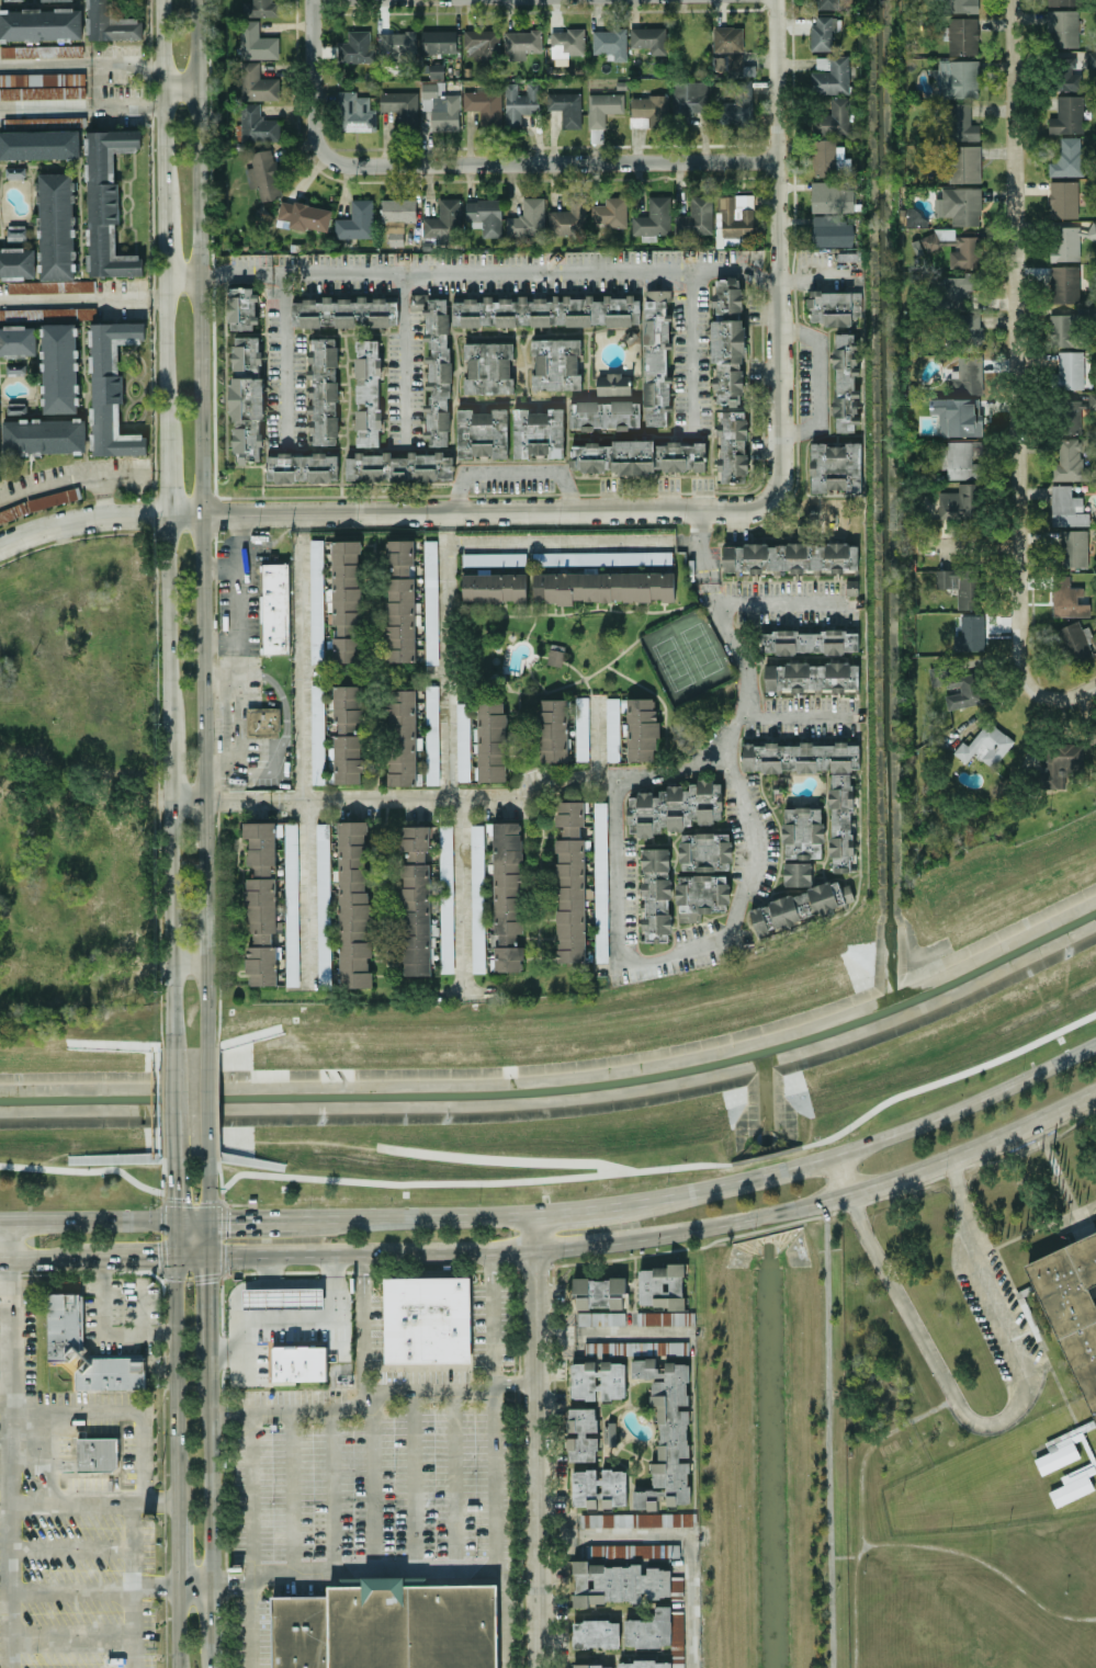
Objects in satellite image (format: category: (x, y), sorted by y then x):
building: (53, 0)
building: (1063, 2)
building: (827, 3)
building: (962, 5)
building: (261, 8)
building: (110, 22)
building: (41, 23)
building: (1062, 27)
building: (822, 32)
building: (963, 35)
building: (648, 38)
building: (728, 38)
building: (439, 41)
building: (256, 42)
building: (611, 42)
building: (521, 43)
building: (566, 43)
building: (481, 44)
building: (355, 47)
building: (398, 47)
building: (41, 50)
road: (314, 54)
building: (1092, 59)
road: (45, 64)
road: (125, 64)
building: (735, 65)
building: (437, 69)
building: (831, 75)
building: (1066, 75)
building: (958, 78)
road: (179, 79)
road: (97, 83)
building: (257, 83)
building: (42, 86)
building: (689, 95)
building: (519, 102)
road: (44, 103)
road: (125, 103)
building: (402, 106)
building: (440, 106)
building: (484, 106)
building: (566, 106)
building: (602, 107)
building: (647, 110)
building: (354, 112)
building: (733, 113)
building: (1067, 115)
building: (833, 118)
building: (959, 122)
building: (257, 124)
road: (778, 138)
building: (38, 143)
building: (827, 157)
building: (1067, 158)
road: (527, 162)
building: (964, 163)
building: (15, 171)
building: (263, 174)
building: (831, 197)
building: (1063, 198)
building: (106, 202)
building: (959, 205)
building: (397, 209)
building: (610, 212)
building: (305, 215)
building: (913, 215)
building: (485, 216)
building: (653, 217)
building: (528, 218)
building: (734, 218)
building: (568, 219)
building: (355, 220)
building: (443, 220)
road: (162, 222)
building: (56, 226)
building: (1092, 230)
building: (831, 231)
building: (1064, 242)
building: (956, 247)
building: (16, 263)
road: (489, 271)
road: (180, 274)
road: (814, 276)
building: (1064, 283)
building: (959, 288)
road: (81, 298)
building: (726, 298)
building: (834, 306)
building: (241, 308)
building: (546, 310)
building: (344, 311)
building: (1063, 329)
building: (969, 332)
building: (18, 339)
road: (689, 349)
building: (656, 356)
road: (399, 360)
building: (727, 361)
road: (280, 362)
building: (556, 363)
building: (436, 365)
building: (58, 367)
building: (488, 367)
building: (1073, 368)
road: (1017, 378)
building: (969, 379)
road: (817, 381)
building: (845, 382)
building: (613, 384)
building: (111, 387)
road: (781, 389)
building: (323, 392)
building: (368, 393)
building: (247, 397)
building: (1092, 399)
building: (603, 413)
building: (958, 416)
building: (1070, 416)
building: (539, 432)
building: (482, 433)
building: (44, 435)
building: (732, 444)
building: (637, 456)
building: (961, 461)
building: (1070, 461)
building: (399, 466)
building: (835, 466)
building: (302, 467)
road: (512, 473)
road: (70, 476)
road: (165, 479)
road: (100, 493)
building: (958, 502)
building: (1066, 507)
road: (384, 511)
road: (447, 520)
road: (201, 523)
road: (557, 542)
road: (700, 544)
road: (965, 545)
building: (1074, 548)
building: (786, 558)
road: (221, 564)
building: (961, 586)
building: (494, 587)
building: (603, 587)
road: (241, 597)
building: (1067, 598)
road: (166, 600)
building: (316, 600)
building: (346, 600)
building: (399, 600)
building: (430, 601)
road: (771, 602)
building: (274, 608)
building: (970, 633)
building: (811, 642)
building: (1075, 642)
park: (700, 648)
building: (555, 656)
road: (739, 656)
road: (447, 662)
park: (673, 662)
building: (811, 676)
building: (969, 687)
building: (262, 720)
building: (581, 728)
building: (642, 728)
building: (612, 729)
building: (552, 730)
building: (317, 734)
building: (348, 734)
building: (431, 734)
building: (402, 737)
road: (595, 737)
road: (726, 738)
building: (463, 741)
building: (489, 742)
road: (167, 744)
building: (985, 745)
road: (305, 749)
building: (1061, 762)
road: (81, 796)
road: (434, 797)
road: (236, 799)
road: (185, 801)
building: (674, 807)
building: (841, 821)
building: (803, 832)
building: (704, 851)
building: (798, 873)
building: (570, 883)
road: (93, 888)
building: (656, 894)
road: (463, 895)
building: (507, 895)
building: (700, 895)
building: (447, 897)
building: (477, 897)
building: (416, 900)
building: (261, 903)
building: (292, 904)
building: (801, 905)
building: (323, 906)
road: (169, 923)
road: (680, 951)
road: (188, 968)
road: (86, 980)
road: (463, 994)
park: (553, 1064)
road: (946, 1078)
road: (171, 1079)
river: (561, 1088)
road: (207, 1102)
road: (941, 1114)
building: (250, 1131)
road: (171, 1135)
road: (765, 1155)
road: (498, 1158)
road: (841, 1173)
road: (1058, 1178)
road: (347, 1180)
road: (171, 1189)
road: (208, 1189)
road: (852, 1189)
road: (701, 1192)
traffic signals: (172, 1193)
road: (575, 1212)
road: (417, 1217)
traffic signals: (229, 1219)
road: (257, 1219)
road: (86, 1221)
road: (190, 1221)
road: (1039, 1223)
road: (208, 1236)
road: (172, 1237)
road: (7, 1239)
road: (403, 1252)
road: (149, 1253)
traffic signals: (156, 1253)
road: (45, 1257)
road: (363, 1266)
road: (5, 1280)
traffic signals: (208, 1283)
road: (267, 1283)
building: (660, 1286)
road: (139, 1292)
building: (599, 1292)
building: (284, 1296)
road: (2, 1302)
road: (971, 1302)
road: (208, 1303)
building: (1071, 1305)
road: (258, 1314)
road: (330, 1315)
building: (600, 1318)
building: (428, 1319)
building: (64, 1324)
road: (242, 1329)
road: (610, 1332)
road: (97, 1334)
road: (227, 1353)
building: (298, 1361)
road: (173, 1380)
building: (597, 1380)
road: (510, 1382)
road: (428, 1391)
road: (305, 1410)
road: (228, 1412)
road: (71, 1414)
road: (998, 1419)
building: (580, 1433)
building: (666, 1433)
road: (826, 1433)
road: (532, 1441)
building: (97, 1453)
building: (1057, 1456)
road: (491, 1459)
road: (29, 1460)
road: (50, 1460)
road: (211, 1471)
road: (408, 1480)
road: (453, 1480)
road: (7, 1485)
road: (366, 1485)
building: (598, 1487)
building: (1070, 1489)
road: (329, 1490)
road: (290, 1491)
road: (90, 1506)
building: (664, 1519)
building: (606, 1520)
road: (680, 1533)
road: (137, 1540)
road: (247, 1540)
road: (174, 1547)
road: (72, 1550)
building: (633, 1550)
road: (968, 1554)
road: (432, 1571)
building: (619, 1582)
road: (229, 1587)
road: (156, 1588)
road: (193, 1588)
road: (72, 1589)
road: (855, 1611)
road: (212, 1616)
park: (957, 1620)
building: (387, 1626)
road: (176, 1627)
building: (596, 1633)
road: (72, 1642)
park: (1092, 1652)
road: (213, 1657)
building: (592, 1666)

